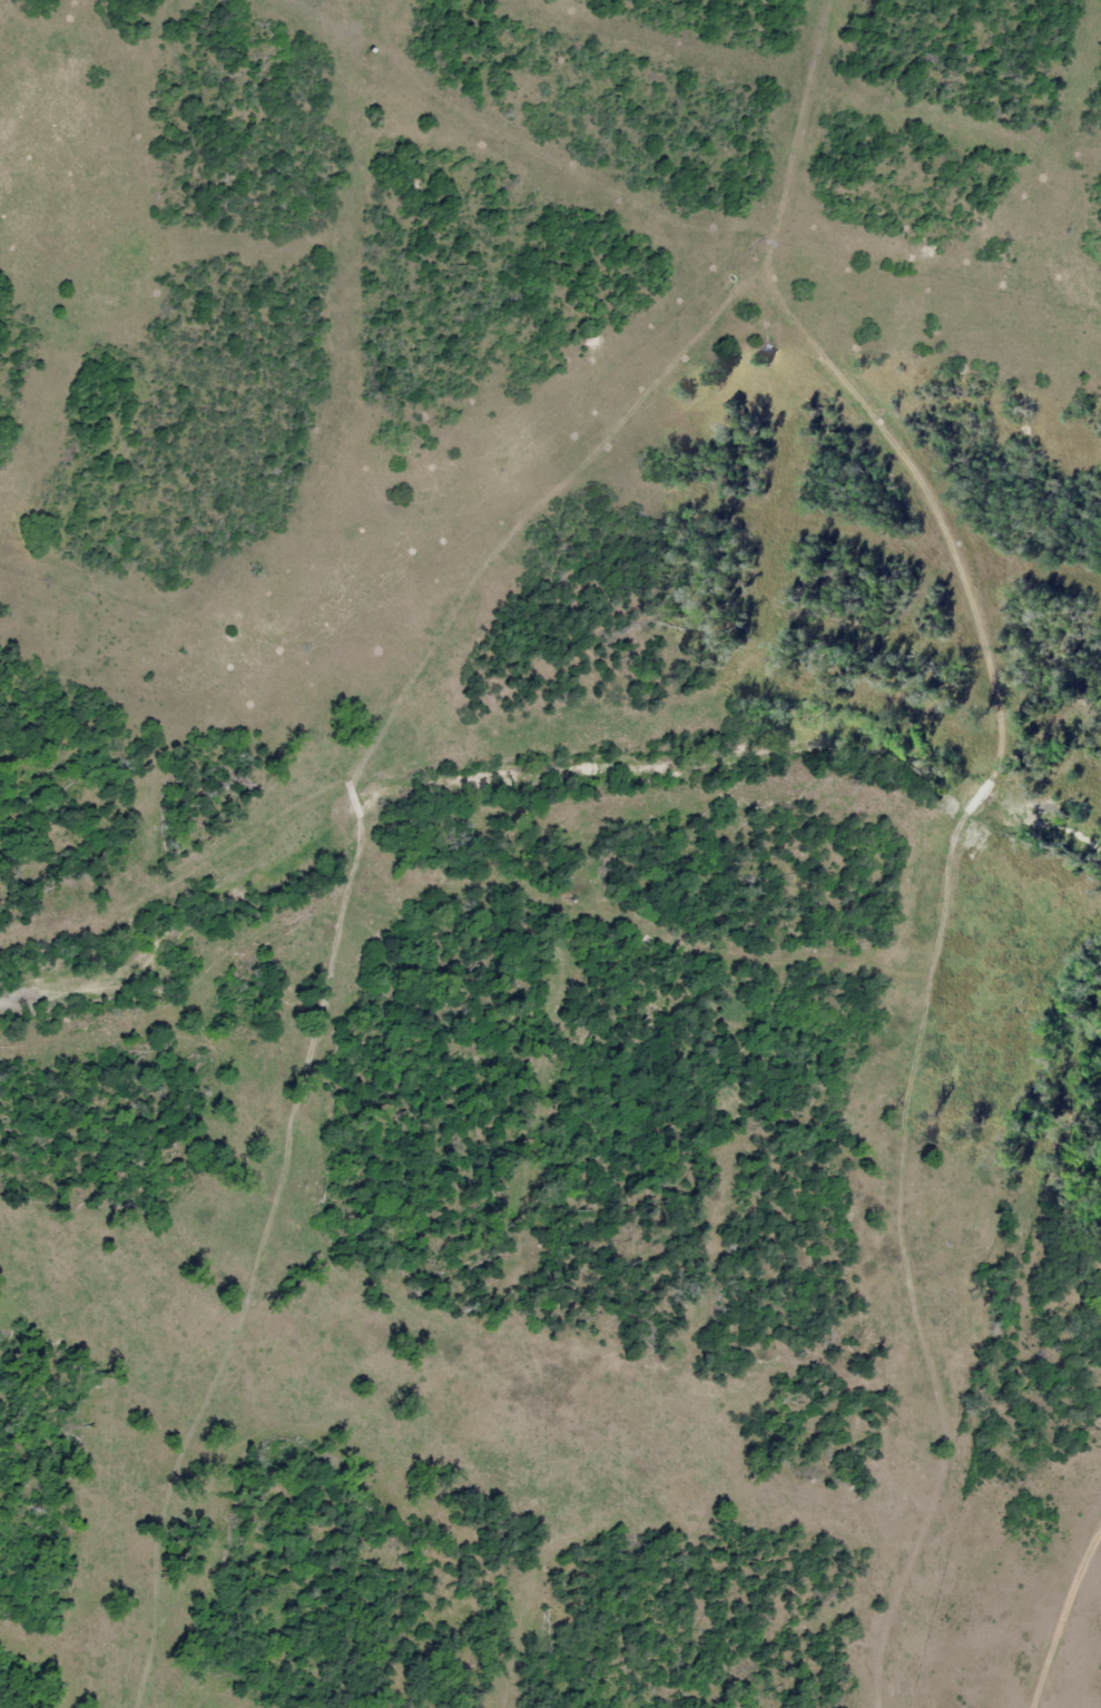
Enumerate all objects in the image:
building: (760, 325)
building: (355, 818)
road: (1077, 1599)
road: (1043, 1672)

